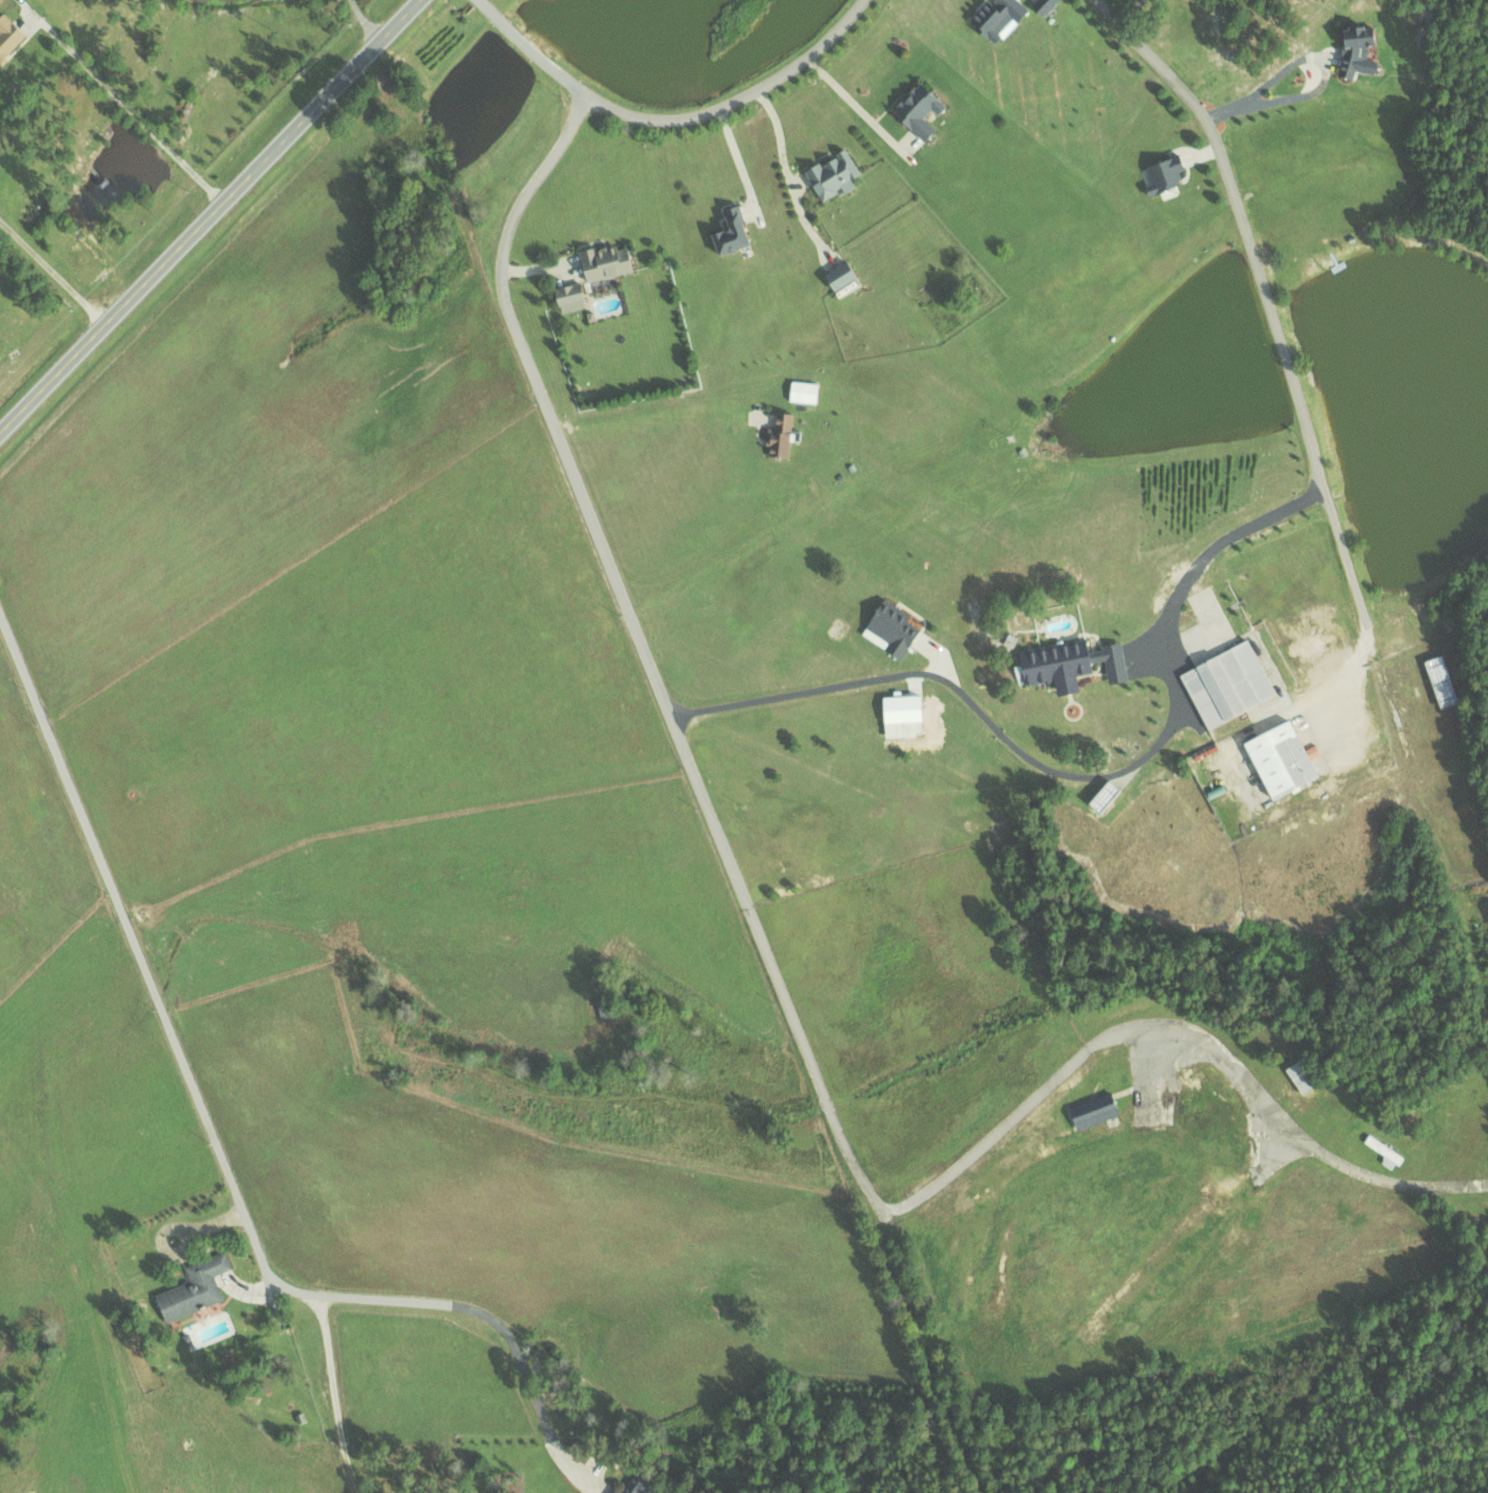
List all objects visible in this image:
building: (1041, 6)
building: (995, 16)
road: (364, 20)
building: (8, 34)
building: (1353, 50)
road: (1250, 98)
building: (916, 109)
road: (668, 118)
building: (1162, 172)
building: (830, 174)
road: (207, 215)
building: (728, 231)
building: (602, 261)
building: (837, 275)
road: (1262, 278)
building: (568, 297)
building: (800, 391)
building: (778, 434)
building: (887, 628)
building: (1113, 661)
building: (1055, 663)
building: (1438, 681)
building: (1225, 683)
building: (1277, 759)
road: (780, 980)
building: (1091, 1111)
building: (192, 1287)
building: (633, 1483)

